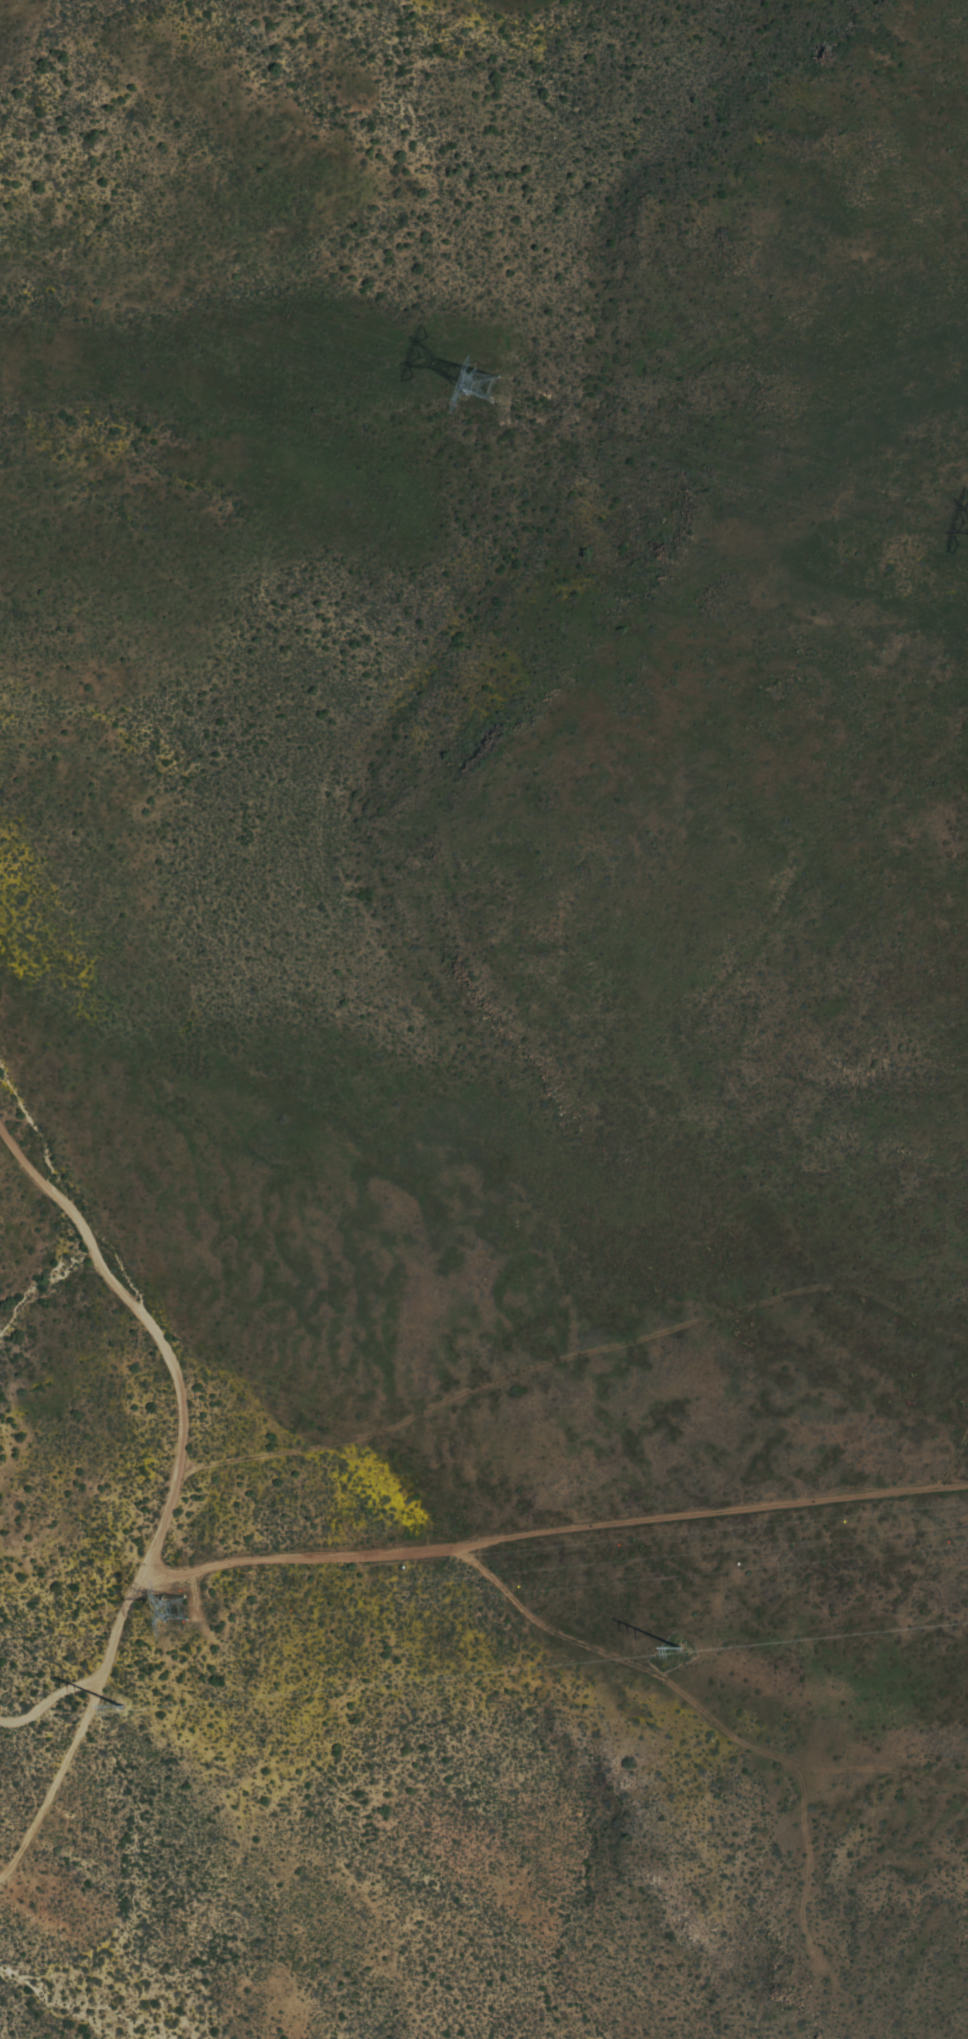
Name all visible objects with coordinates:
power tower: (485, 386)
power tower: (173, 1611)

